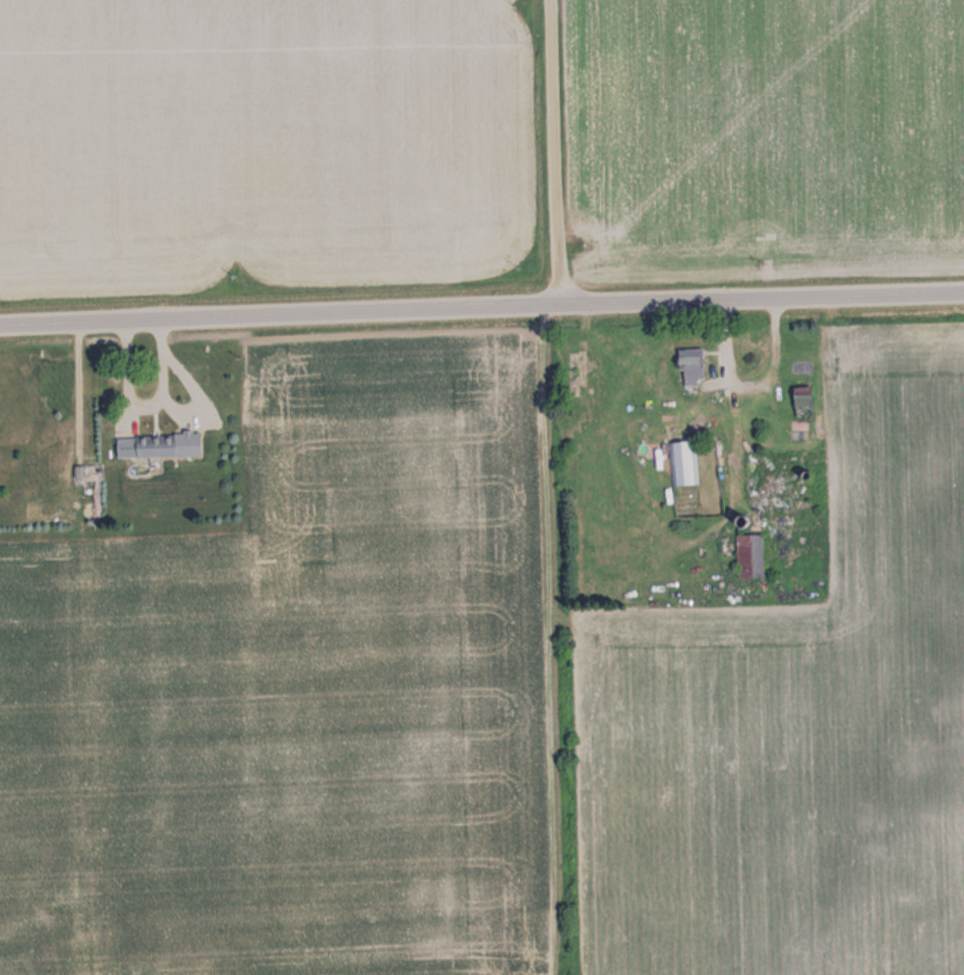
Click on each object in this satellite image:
road: (547, 154)
road: (481, 311)
building: (690, 365)
building: (801, 402)
building: (145, 445)
building: (684, 461)
building: (749, 555)

